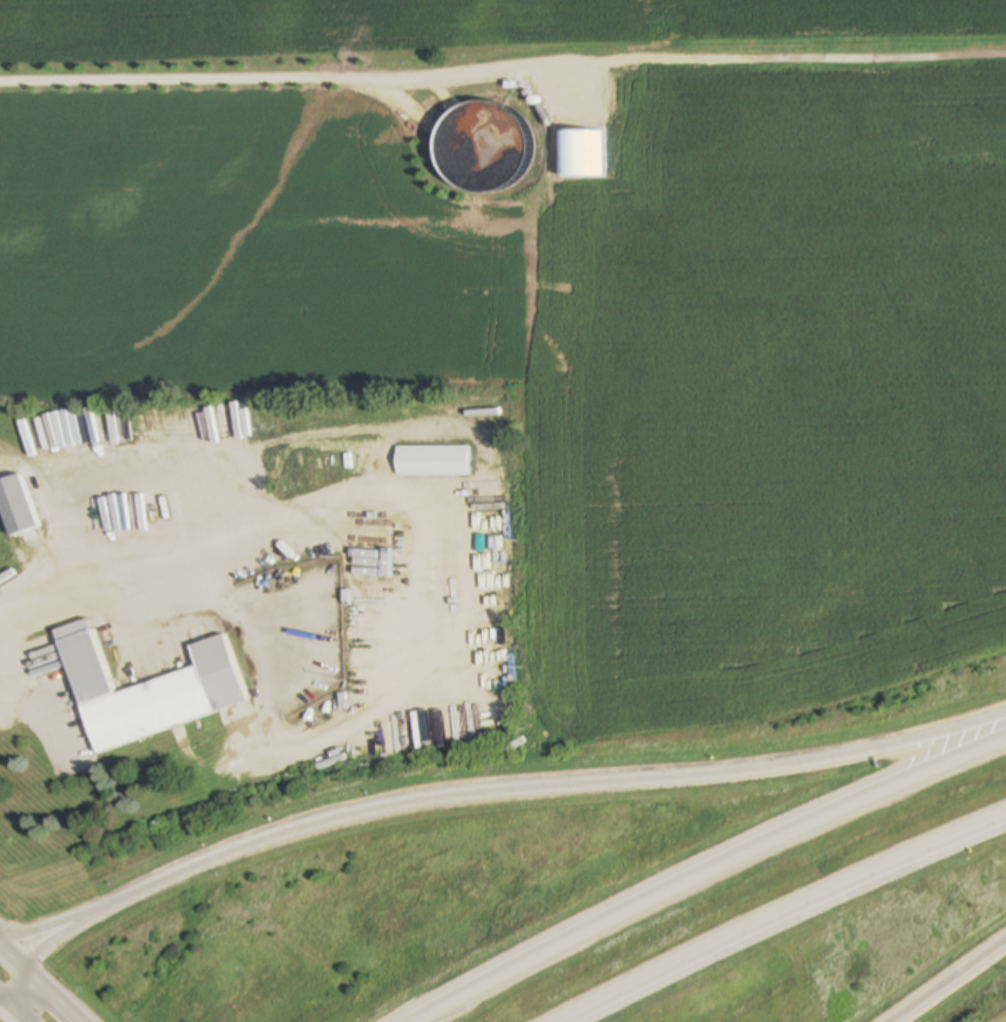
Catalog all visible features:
road: (796, 57)
road: (294, 78)
building: (478, 147)
building: (433, 461)
building: (336, 464)
building: (14, 506)
road: (205, 545)
building: (142, 685)
road: (566, 787)
road: (712, 873)
road: (69, 914)
road: (795, 919)
road: (82, 927)
road: (13, 950)
road: (13, 977)
road: (954, 986)
road: (57, 992)
road: (4, 1018)

